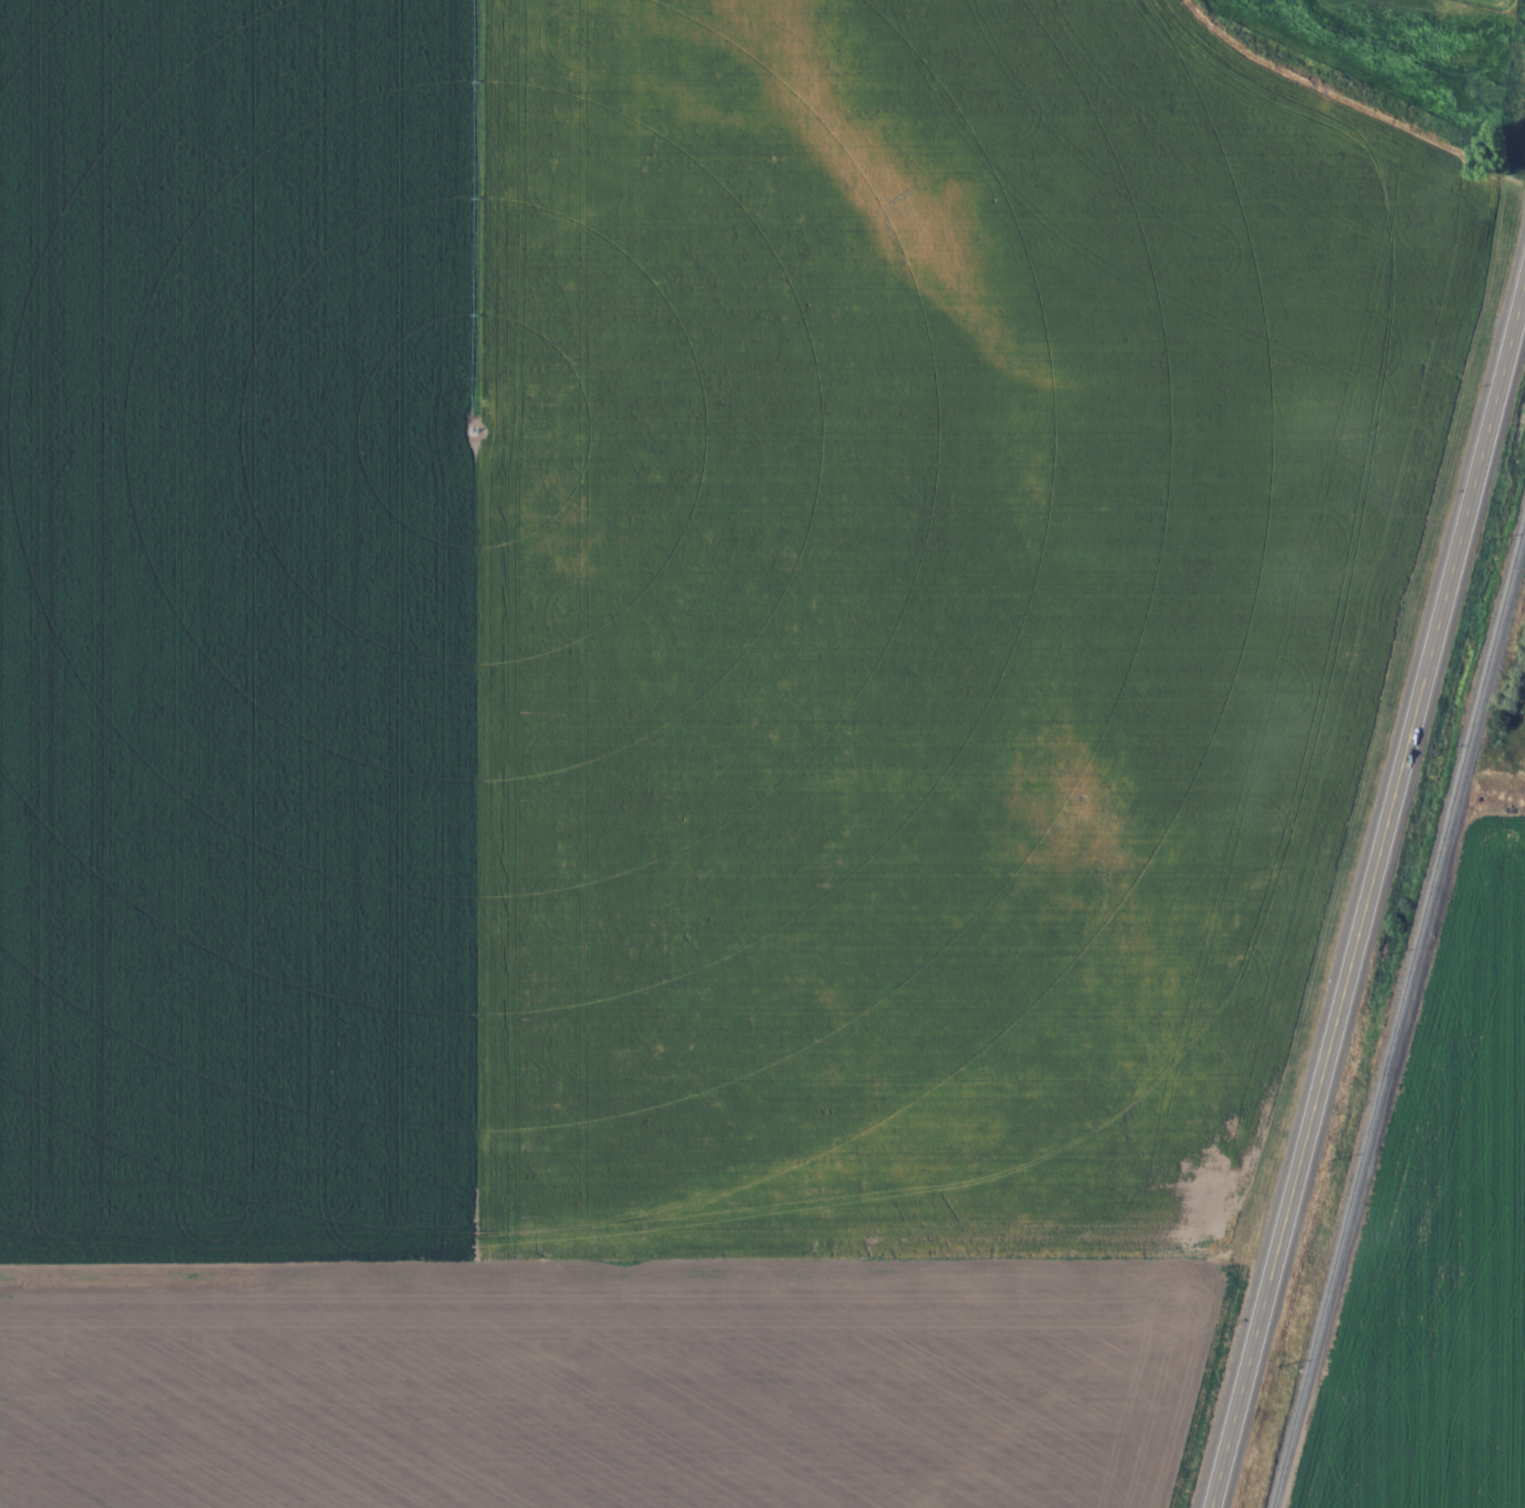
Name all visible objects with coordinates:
crop: (1502, 1)
road: (1370, 895)
railway: (1398, 1022)

